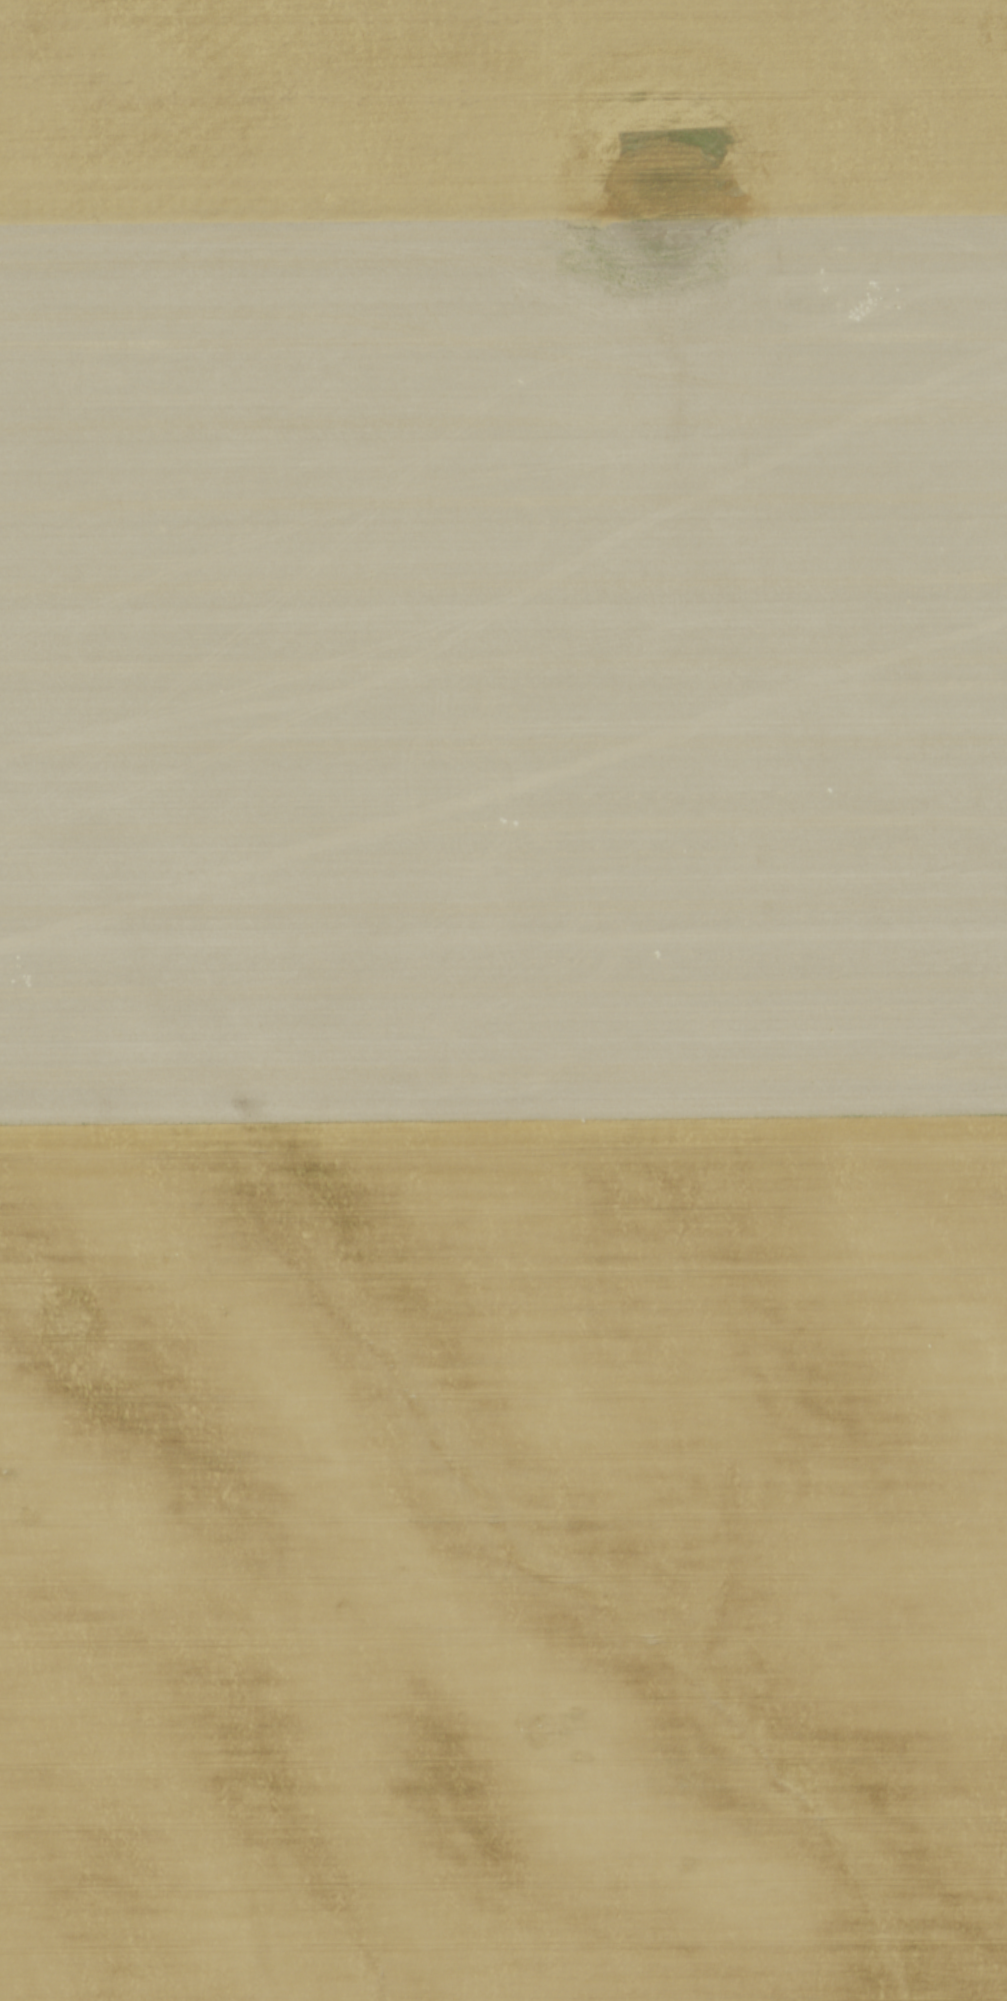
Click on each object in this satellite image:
crop: (503, 1000)

